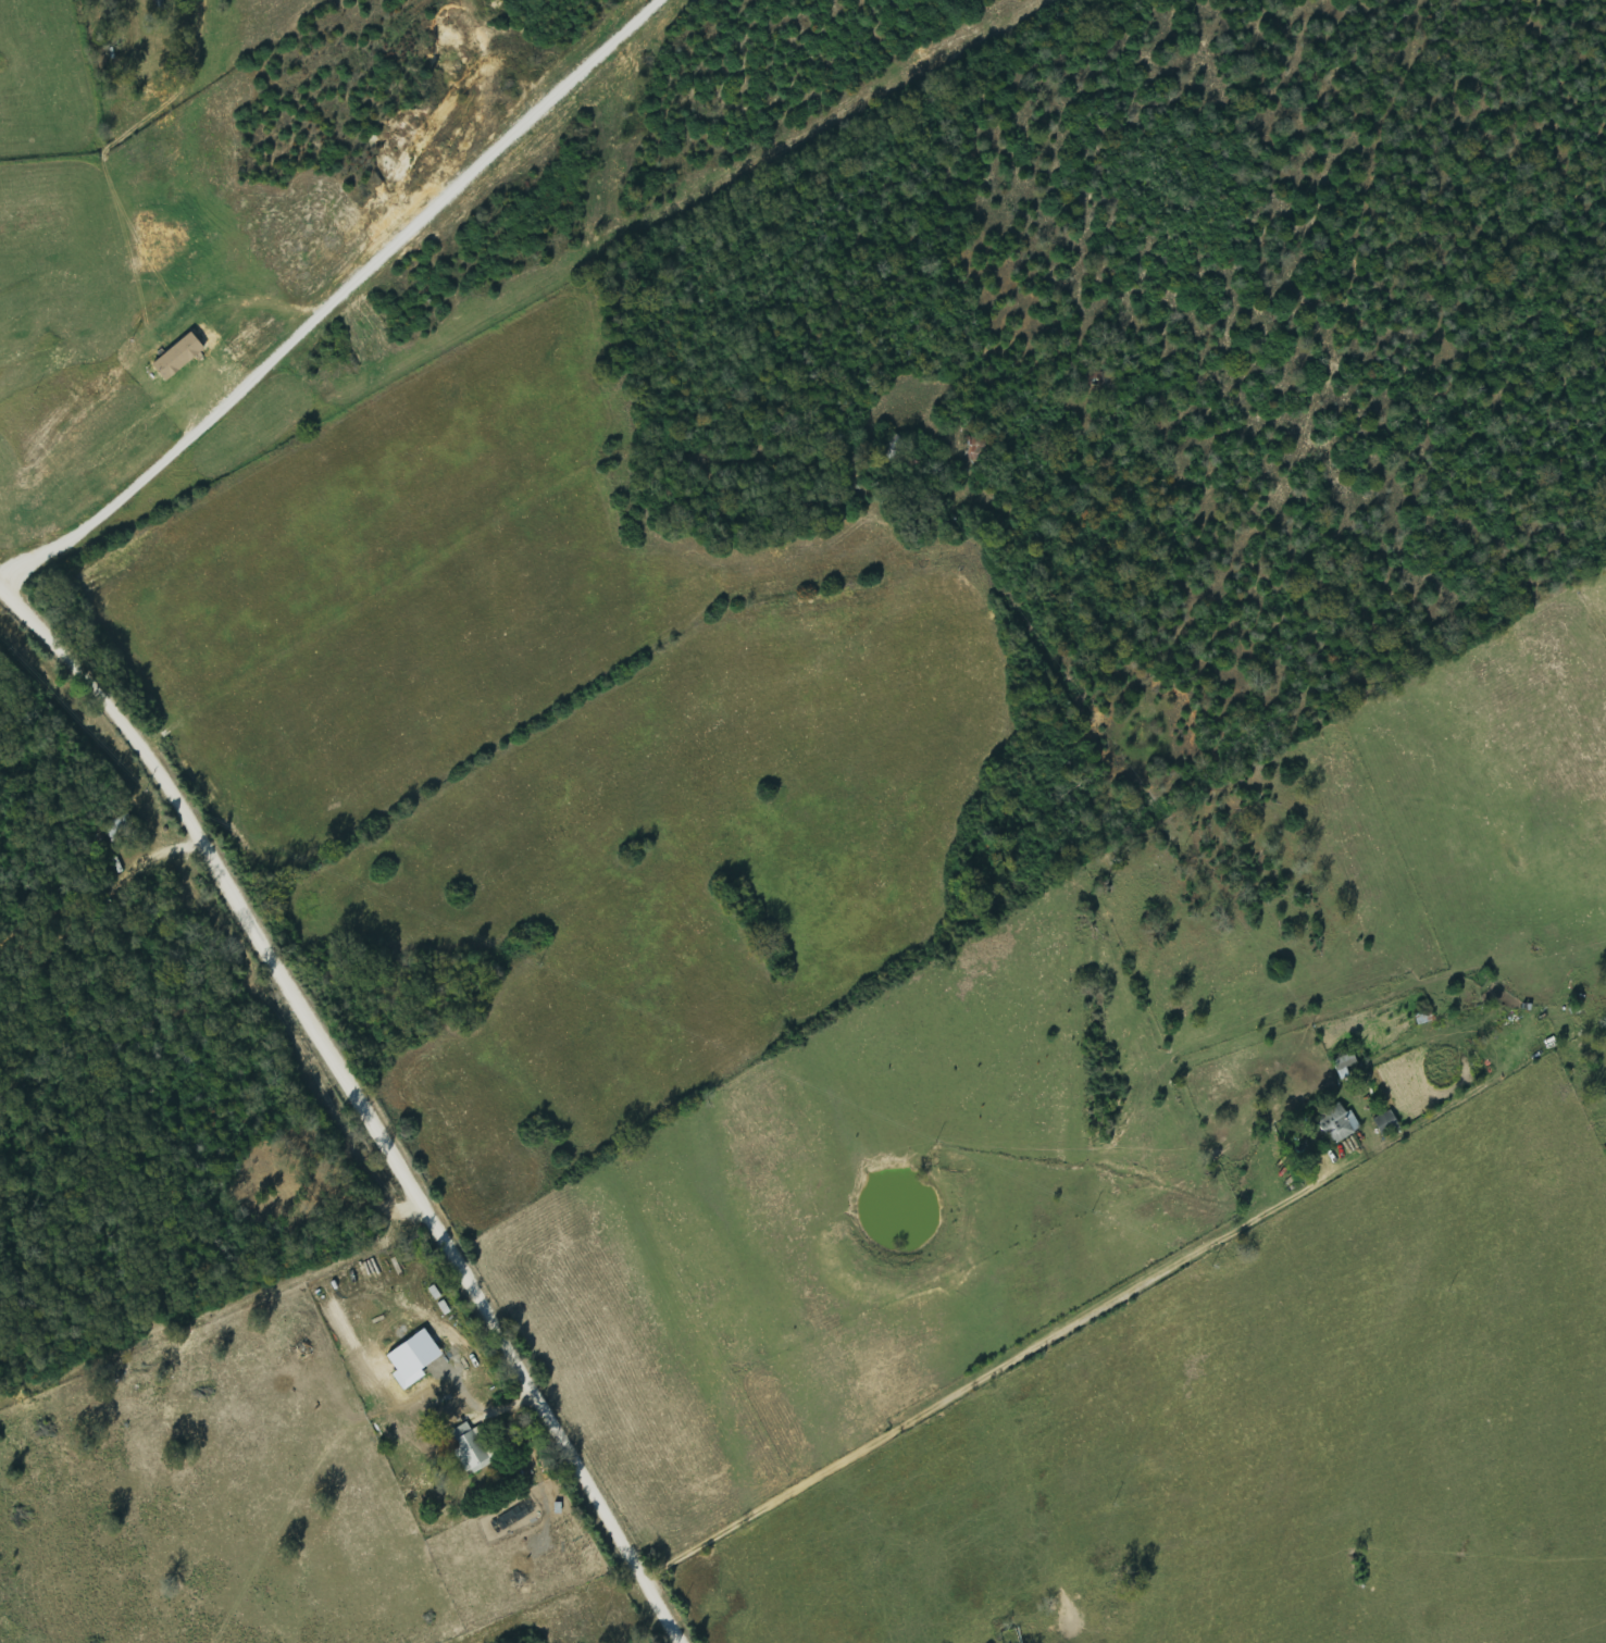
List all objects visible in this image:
building: (161, 5)
building: (183, 357)
road: (749, 552)
building: (123, 827)
road: (351, 1105)
building: (1336, 1123)
building: (1384, 1124)
building: (472, 1448)

